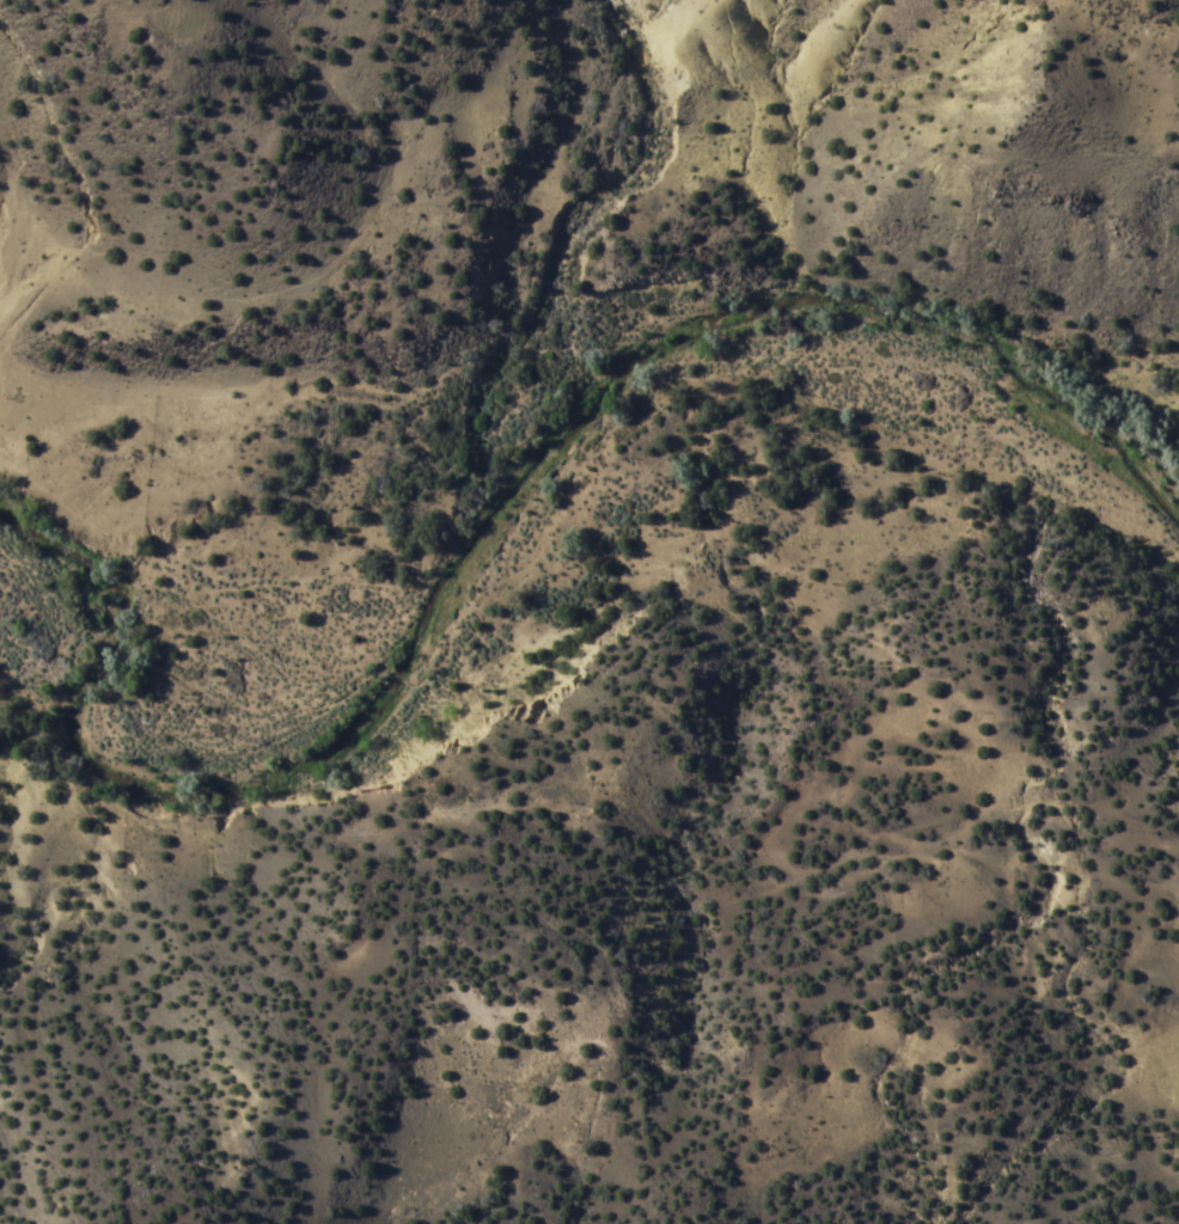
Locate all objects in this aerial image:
road: (18, 166)
river: (549, 482)

